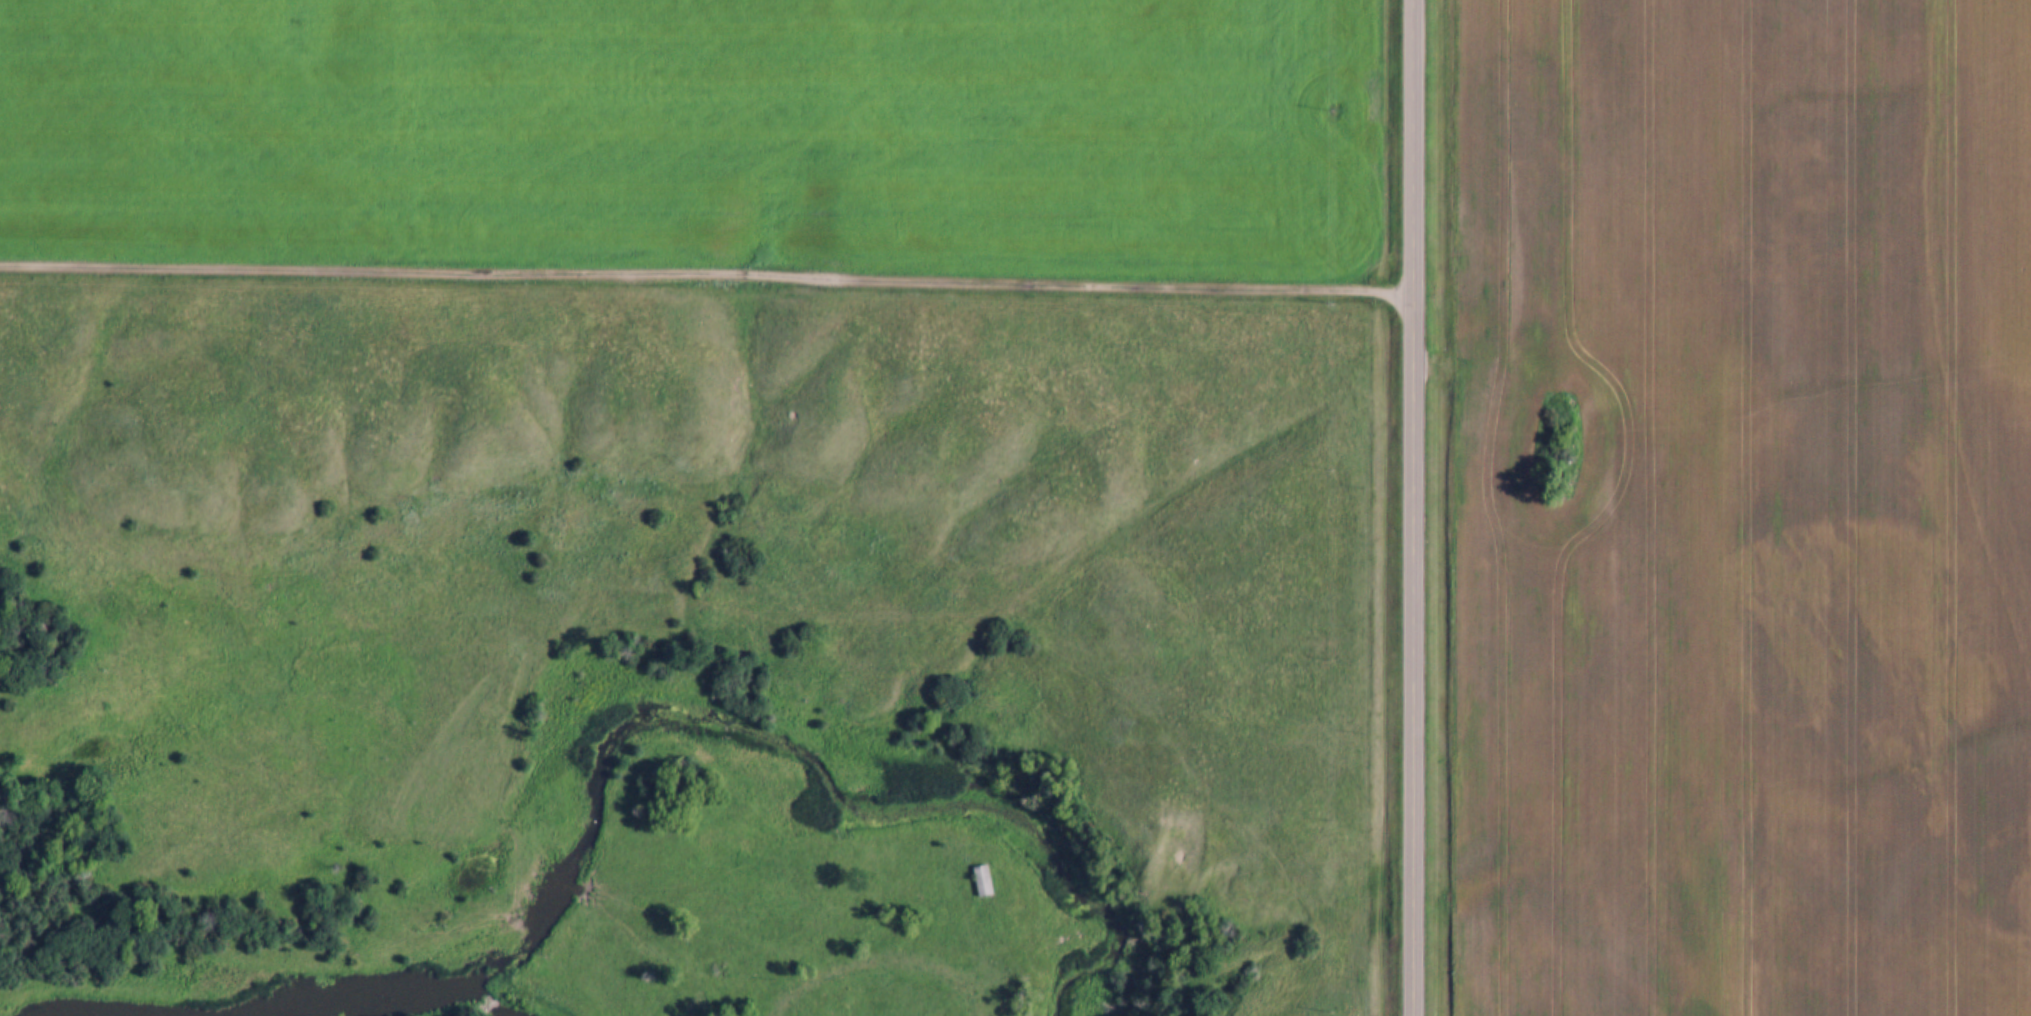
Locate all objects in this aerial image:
road: (706, 272)
road: (1413, 508)
building: (982, 883)
road: (876, 961)

